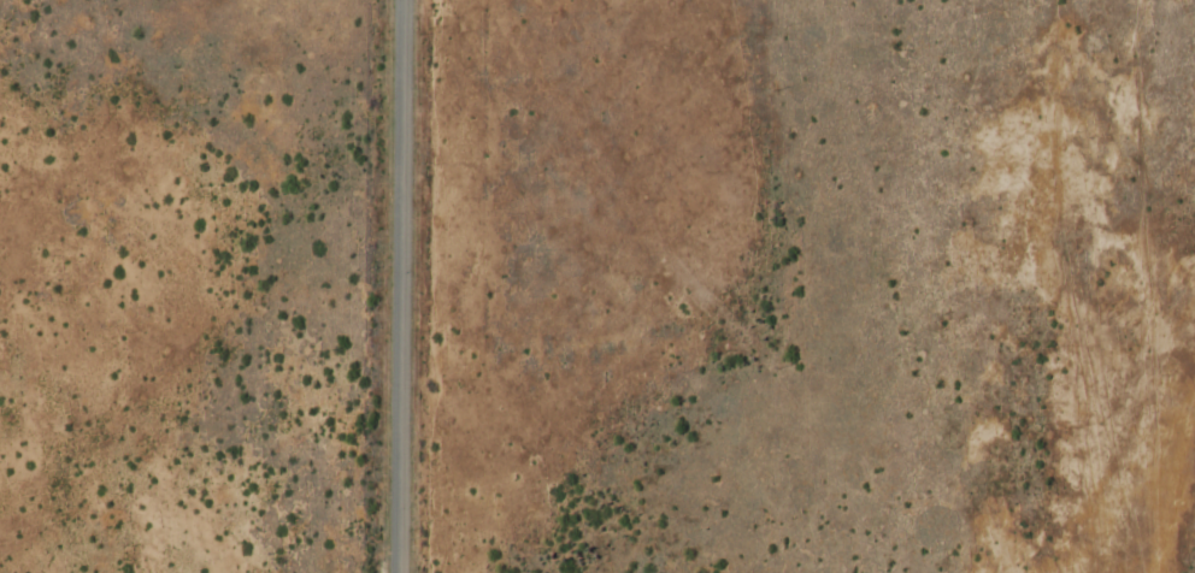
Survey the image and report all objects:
road: (398, 286)

